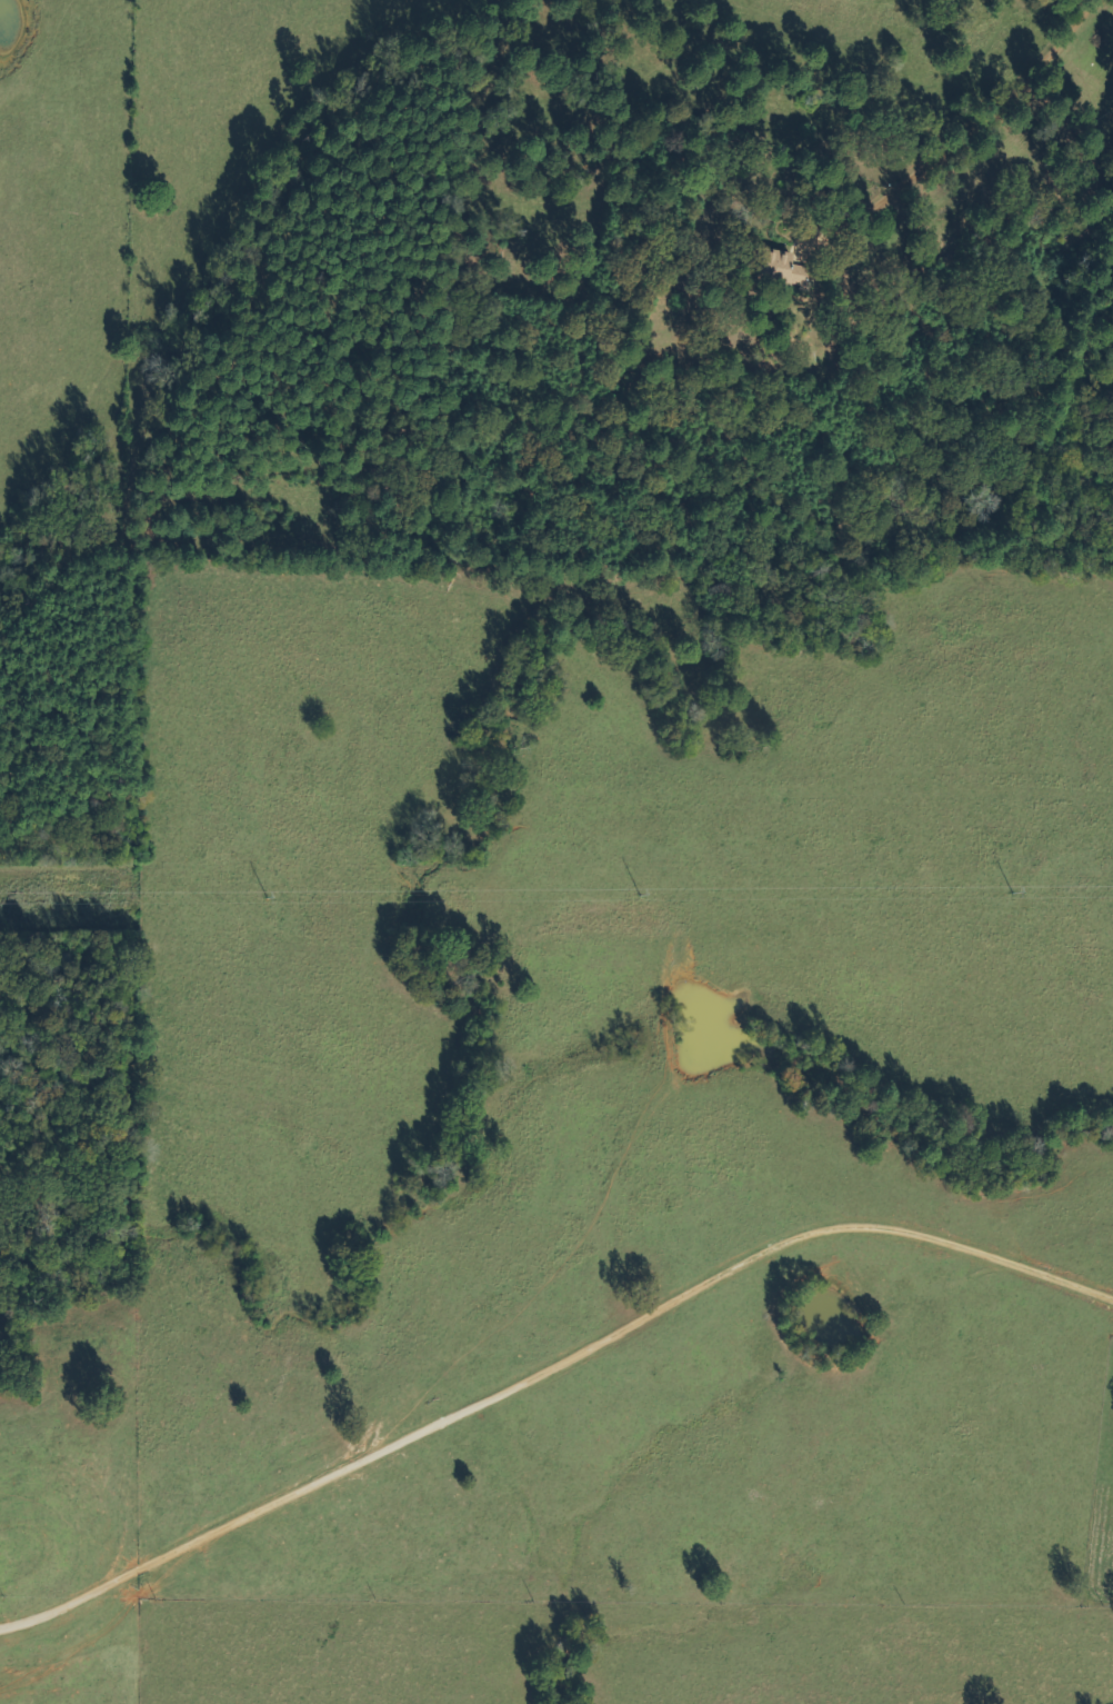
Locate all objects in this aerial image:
power tower: (1011, 891)
power tower: (641, 893)
power tower: (268, 897)

